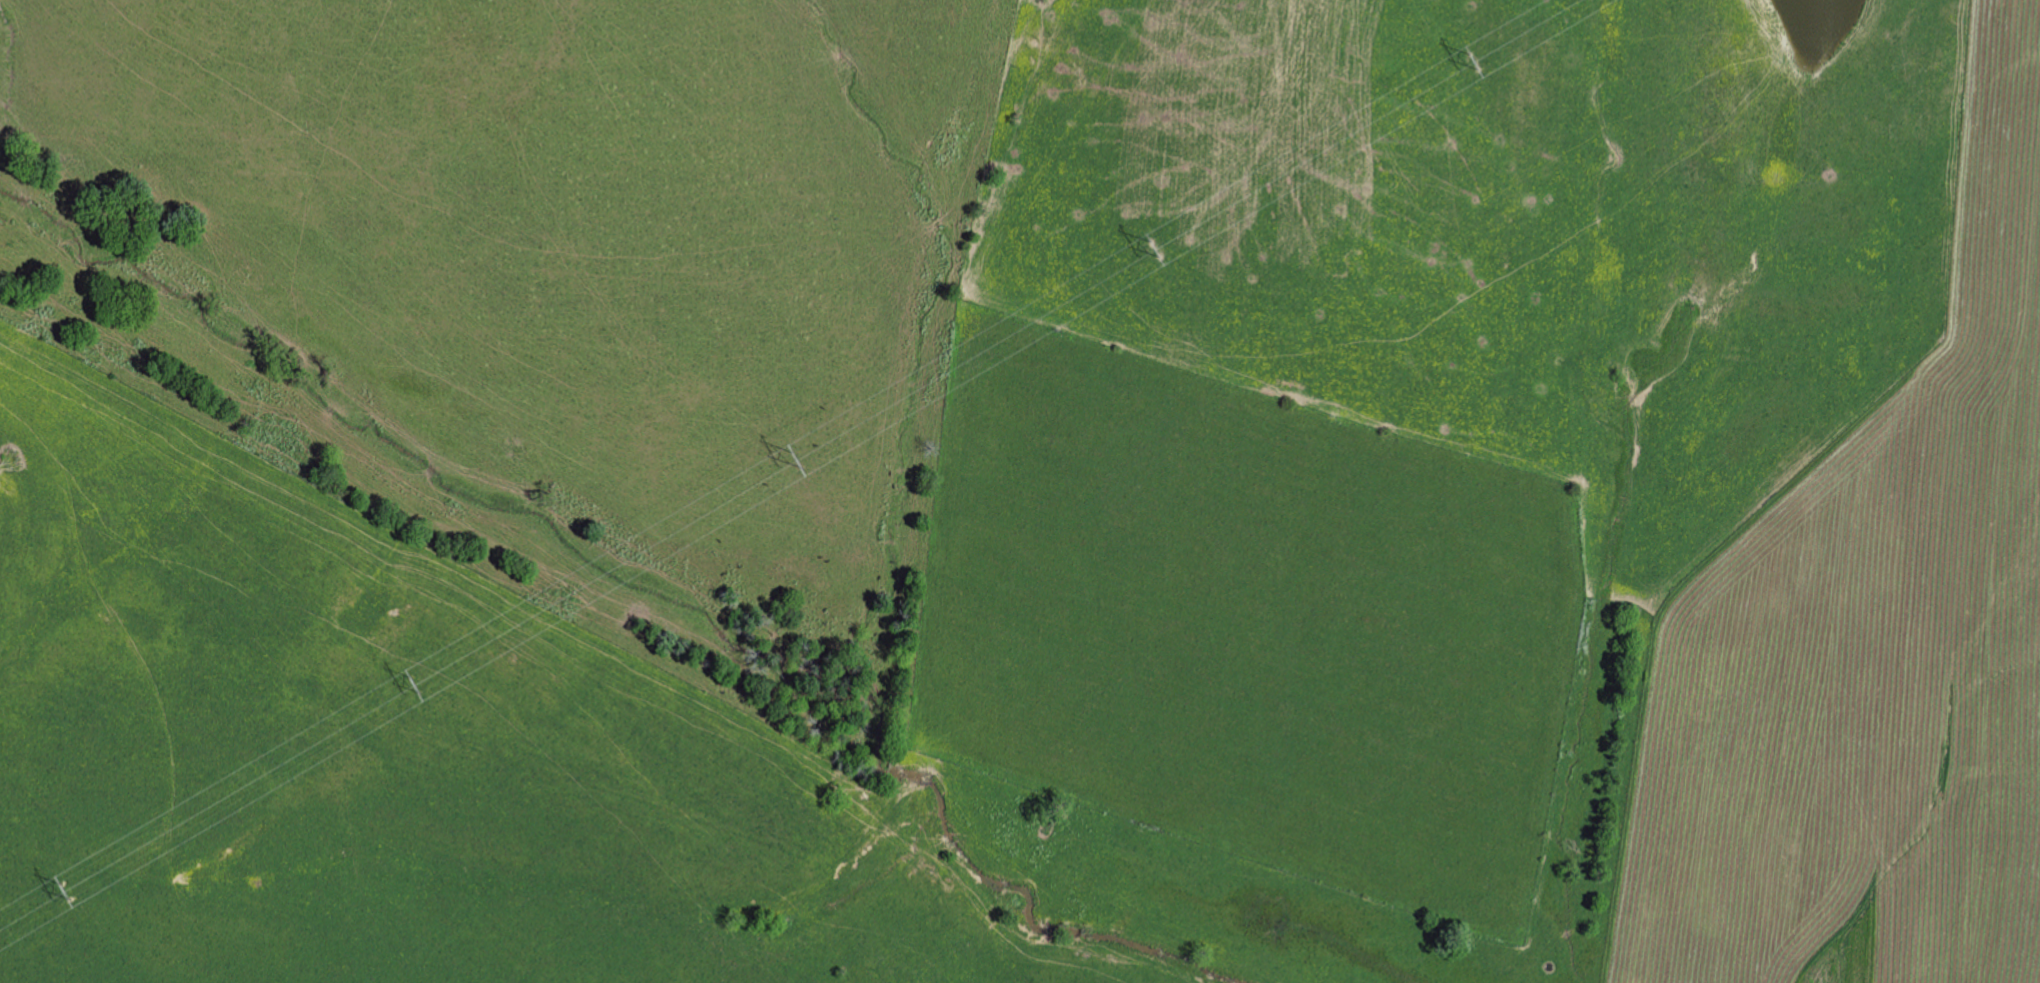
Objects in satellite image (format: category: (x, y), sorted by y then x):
power tower: (1472, 62)
power tower: (1155, 248)
power tower: (796, 459)
power tower: (417, 684)
power tower: (66, 891)

